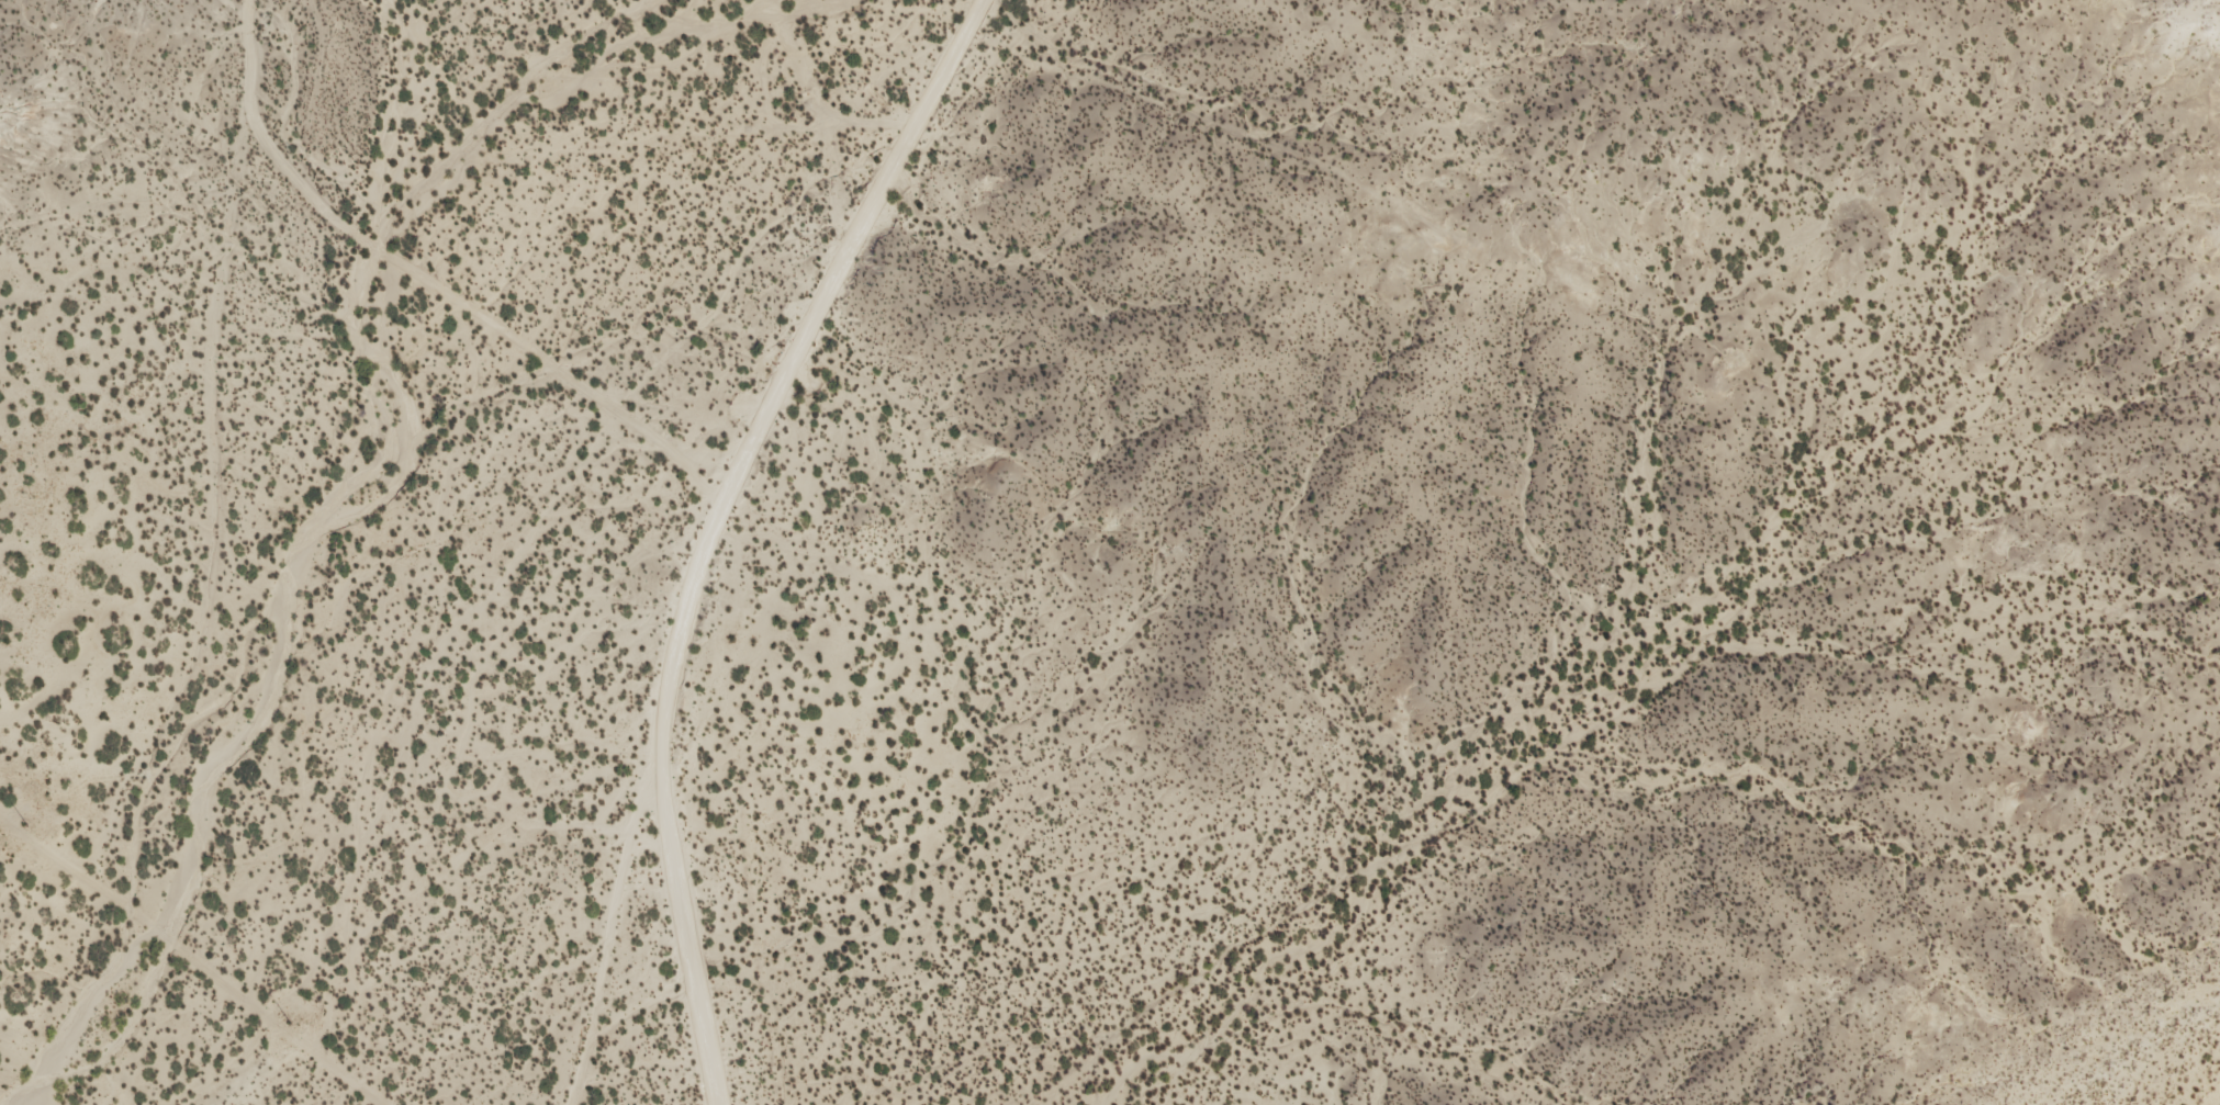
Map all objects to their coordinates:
road: (741, 530)

